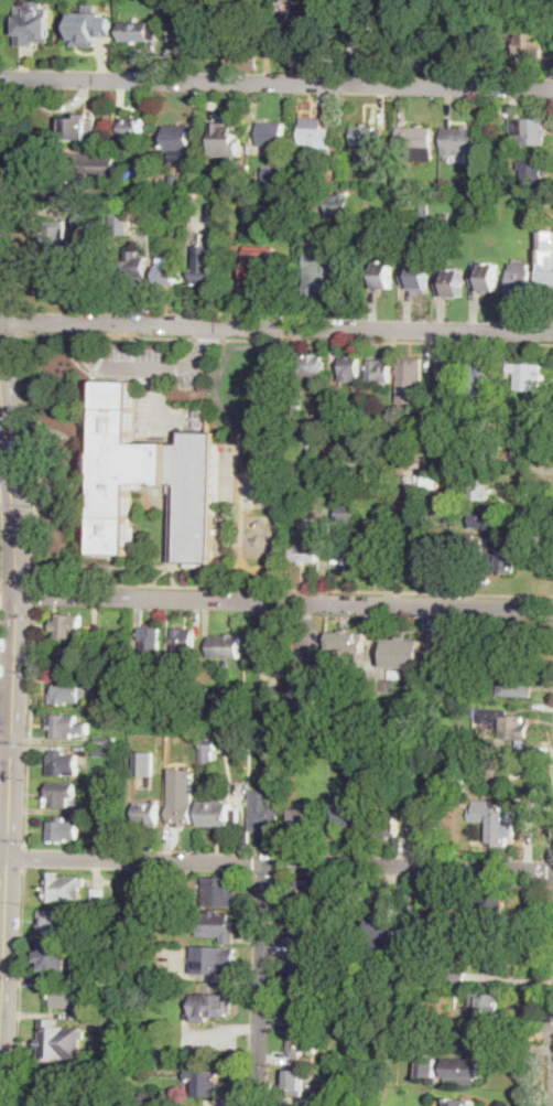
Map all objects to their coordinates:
building: (286, 1)
building: (322, 8)
building: (243, 22)
building: (44, 24)
building: (365, 24)
building: (90, 26)
building: (188, 28)
building: (139, 31)
building: (525, 46)
building: (243, 55)
road: (276, 82)
building: (78, 127)
building: (132, 129)
building: (528, 132)
building: (269, 133)
building: (227, 139)
building: (316, 139)
building: (459, 140)
building: (177, 141)
building: (368, 141)
building: (416, 142)
building: (95, 167)
building: (532, 173)
building: (212, 175)
building: (174, 178)
building: (451, 187)
building: (193, 191)
building: (183, 201)
building: (245, 202)
building: (82, 203)
building: (341, 205)
building: (424, 212)
building: (445, 216)
building: (87, 218)
building: (122, 223)
building: (172, 224)
building: (55, 236)
building: (317, 236)
road: (7, 238)
building: (82, 245)
building: (359, 255)
building: (546, 256)
building: (206, 265)
building: (133, 270)
building: (169, 271)
building: (262, 271)
building: (325, 272)
building: (418, 273)
building: (381, 275)
building: (486, 278)
building: (452, 283)
building: (521, 283)
building: (62, 284)
road: (15, 321)
road: (275, 329)
road: (43, 332)
road: (77, 335)
road: (141, 337)
road: (212, 340)
road: (390, 342)
road: (72, 356)
building: (350, 368)
road: (140, 371)
building: (313, 372)
building: (379, 372)
building: (527, 375)
building: (448, 377)
building: (482, 378)
building: (411, 379)
road: (87, 386)
road: (1, 391)
building: (297, 399)
building: (200, 412)
building: (336, 414)
traffic signals: (6, 417)
building: (391, 418)
road: (53, 430)
building: (372, 430)
building: (305, 437)
building: (473, 437)
building: (528, 438)
road: (14, 441)
building: (420, 445)
building: (456, 452)
road: (31, 457)
road: (446, 466)
road: (82, 477)
traffic signals: (11, 480)
building: (153, 480)
building: (358, 480)
building: (432, 481)
building: (479, 490)
road: (6, 492)
building: (337, 494)
building: (387, 494)
road: (58, 496)
building: (319, 497)
building: (347, 511)
building: (487, 518)
road: (58, 523)
road: (0, 534)
building: (412, 535)
building: (469, 541)
road: (14, 548)
building: (345, 550)
building: (378, 550)
building: (305, 552)
building: (502, 557)
road: (149, 567)
road: (161, 576)
road: (175, 577)
road: (294, 588)
road: (34, 593)
road: (283, 599)
road: (7, 603)
building: (67, 625)
building: (492, 633)
building: (347, 641)
building: (184, 642)
building: (150, 645)
building: (518, 645)
building: (225, 646)
building: (105, 648)
building: (262, 648)
building: (403, 652)
building: (67, 659)
building: (397, 673)
building: (137, 675)
building: (432, 685)
building: (516, 685)
building: (158, 690)
building: (69, 692)
building: (304, 697)
building: (192, 701)
road: (29, 724)
building: (66, 724)
building: (510, 726)
building: (105, 740)
road: (4, 744)
building: (337, 747)
building: (207, 750)
building: (101, 752)
building: (470, 758)
building: (63, 762)
building: (145, 762)
building: (160, 766)
building: (173, 767)
building: (401, 782)
building: (455, 783)
building: (59, 794)
road: (8, 799)
building: (183, 809)
building: (219, 813)
building: (263, 813)
building: (148, 814)
road: (551, 814)
building: (351, 815)
building: (306, 822)
building: (388, 823)
building: (425, 827)
building: (501, 827)
building: (63, 829)
building: (121, 831)
road: (552, 855)
road: (24, 857)
road: (280, 861)
road: (551, 869)
road: (552, 883)
building: (64, 887)
building: (220, 891)
building: (143, 893)
building: (304, 894)
building: (98, 895)
building: (160, 899)
building: (454, 910)
building: (496, 910)
building: (59, 921)
building: (424, 925)
building: (217, 926)
building: (381, 932)
building: (305, 934)
building: (119, 937)
road: (3, 952)
building: (59, 955)
building: (213, 959)
building: (499, 960)
building: (303, 970)
building: (458, 978)
road: (260, 984)
road: (18, 987)
building: (147, 990)
road: (544, 994)
building: (71, 997)
building: (302, 1003)
building: (212, 1007)
building: (382, 1008)
building: (487, 1010)
road: (549, 1014)
building: (86, 1017)
building: (59, 1041)
building: (302, 1042)
road: (501, 1048)
building: (332, 1060)
building: (454, 1070)
building: (107, 1072)
building: (205, 1082)
building: (295, 1082)
building: (56, 1085)
building: (330, 1091)
road: (547, 1096)
building: (149, 1097)
building: (329, 1103)
building: (462, 1103)
building: (294, 1105)

